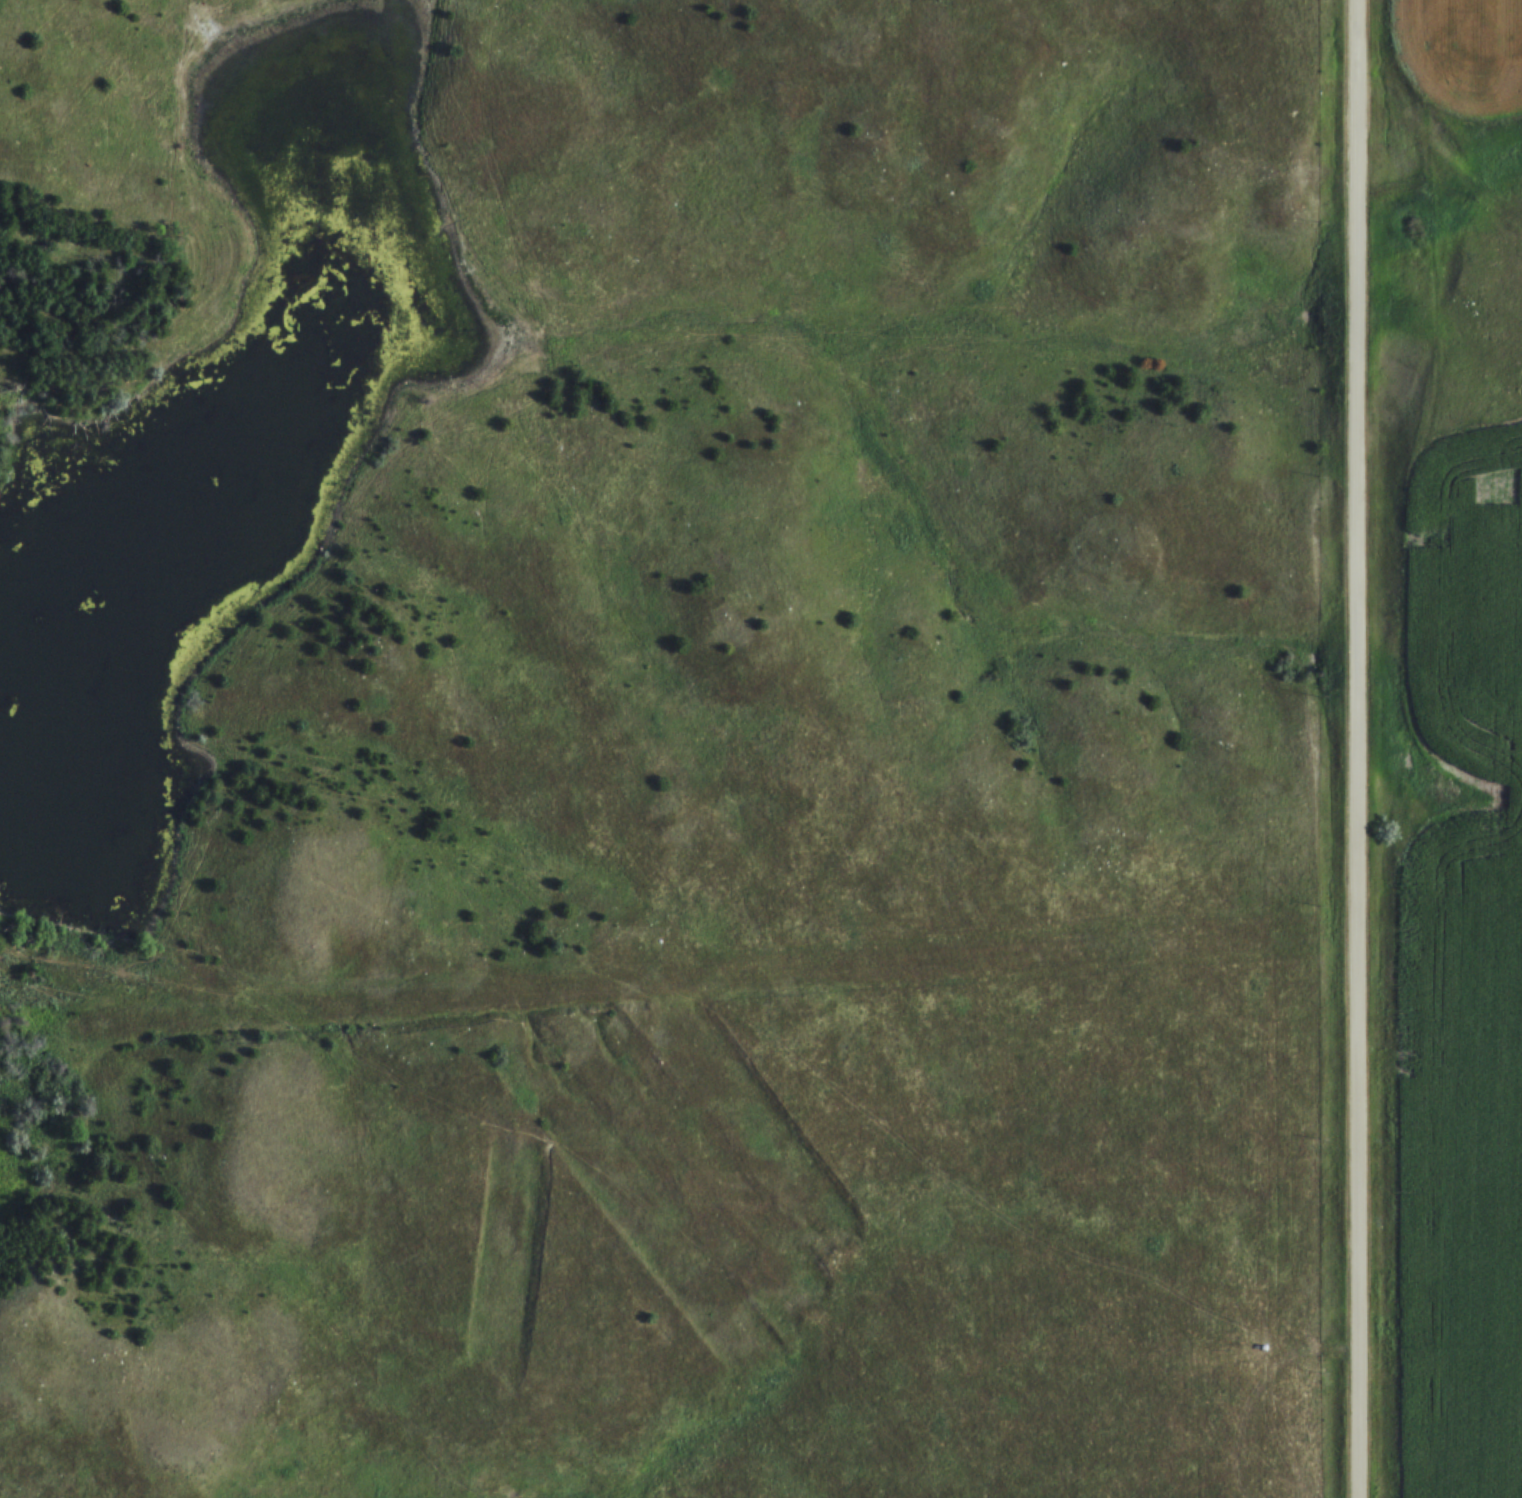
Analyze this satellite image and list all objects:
road: (1360, 749)

